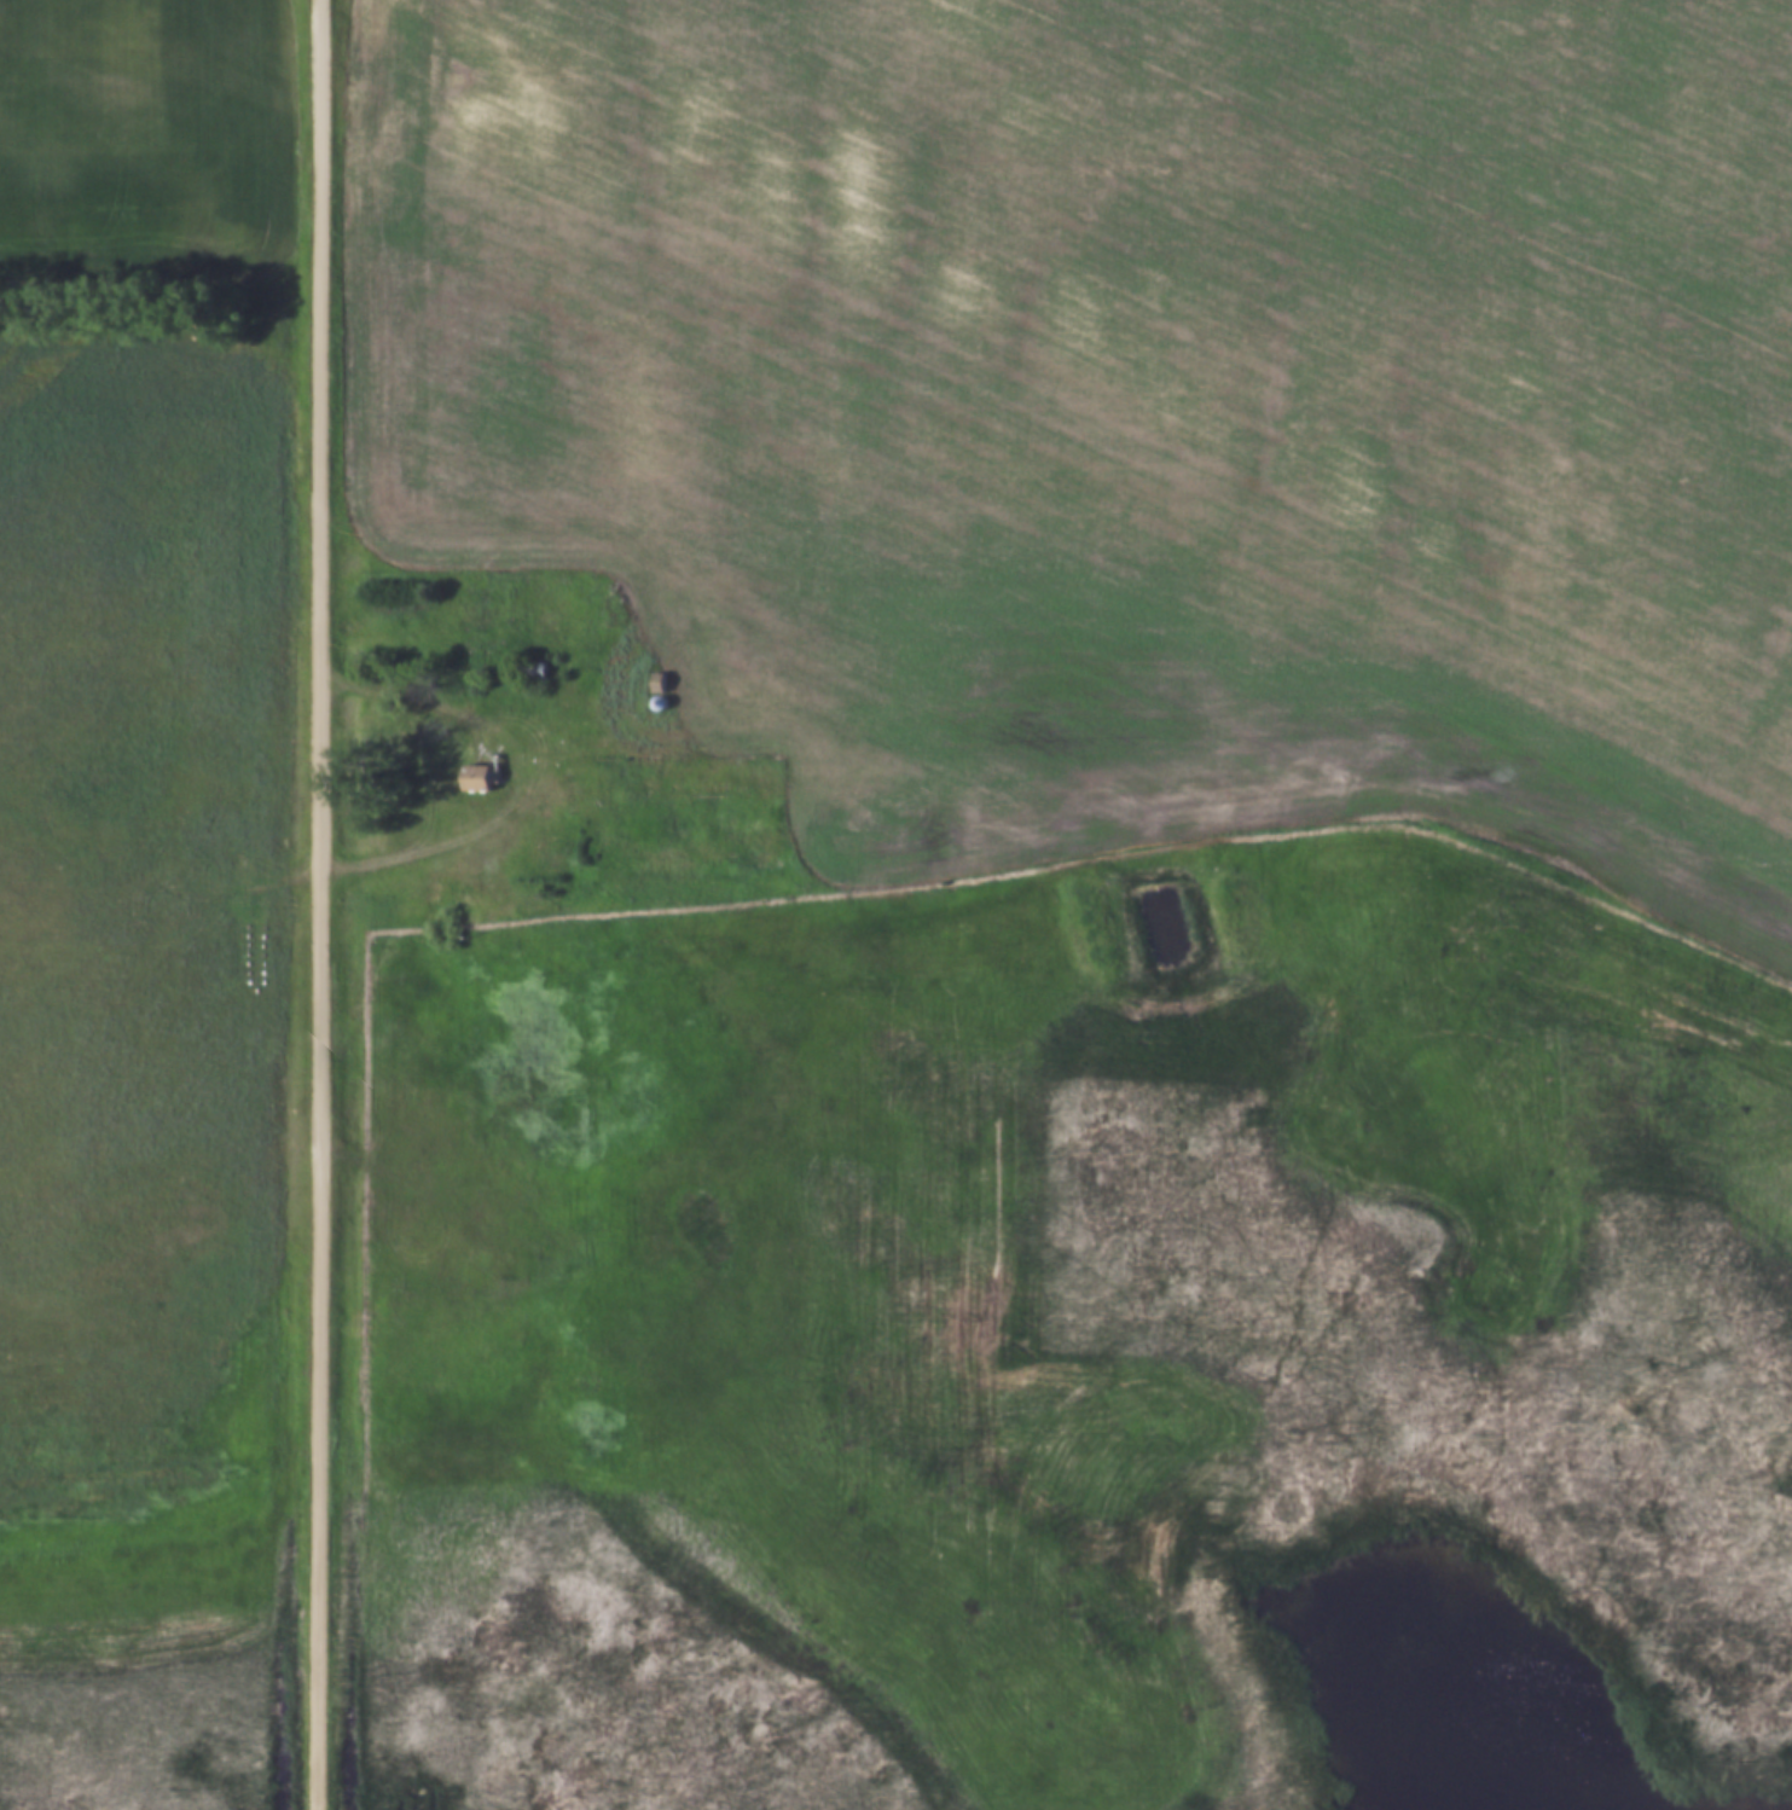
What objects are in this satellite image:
building: (539, 672)
building: (660, 684)
road: (524, 768)
building: (482, 777)
road: (323, 905)

